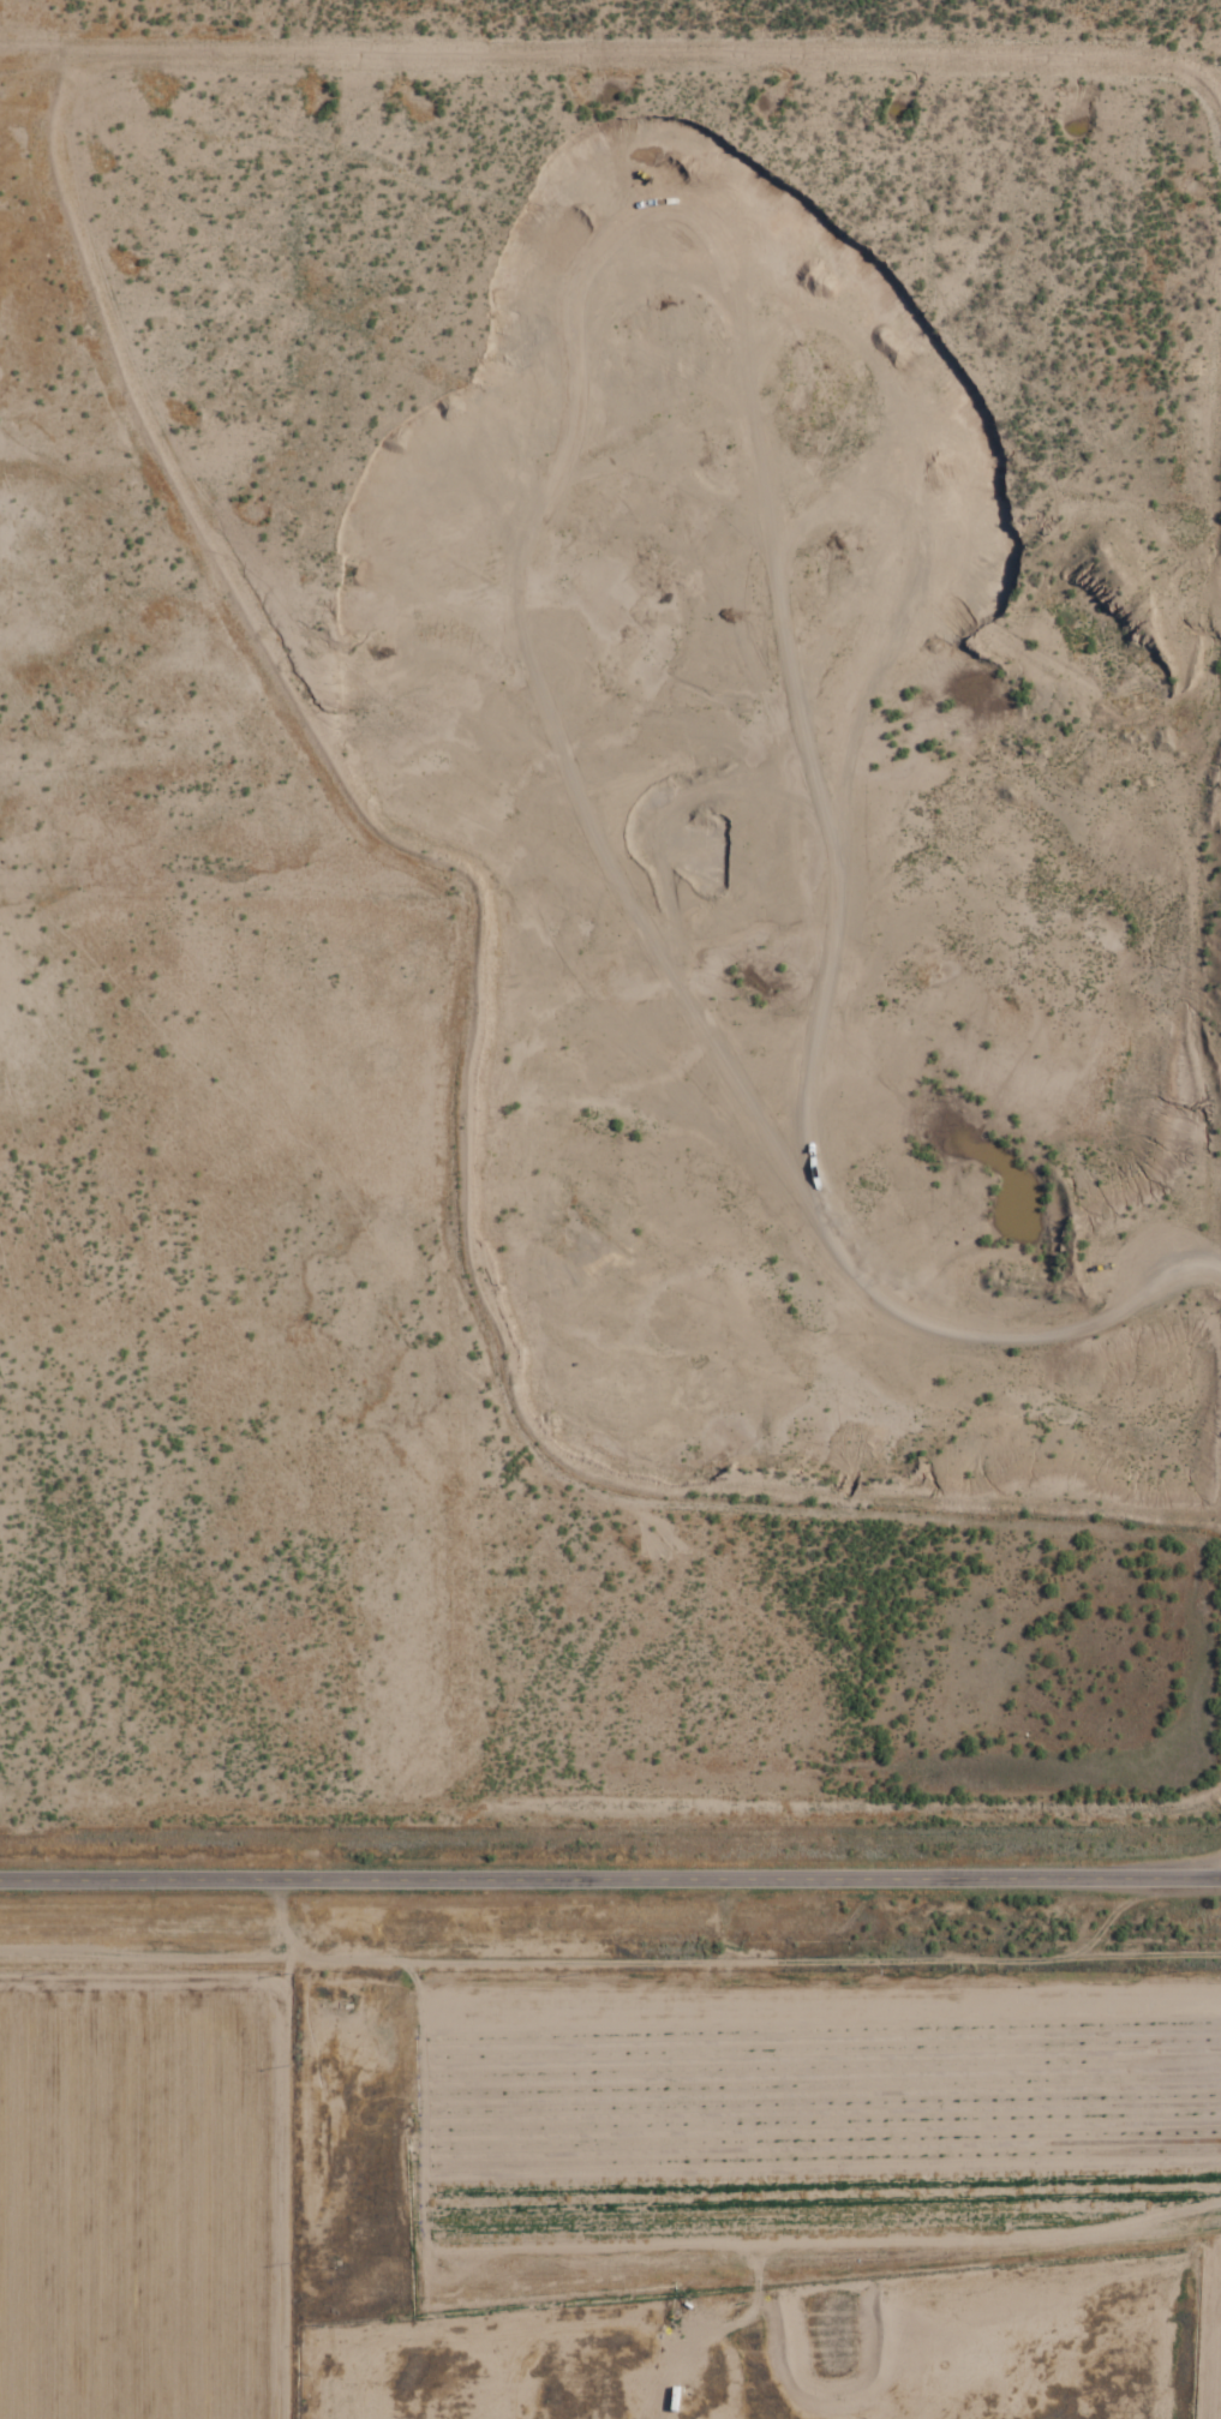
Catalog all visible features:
road: (610, 1879)

